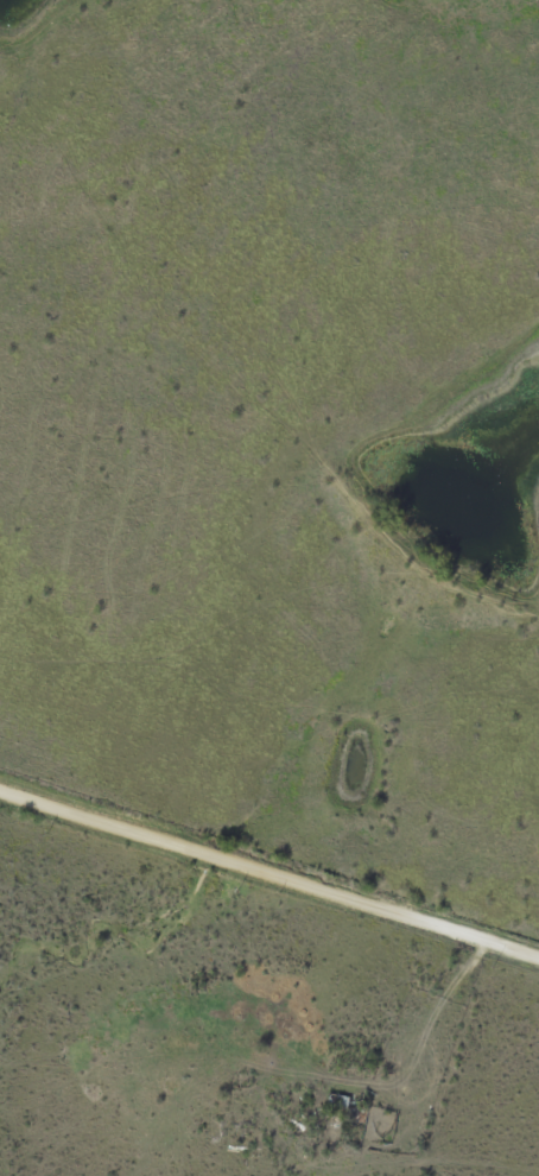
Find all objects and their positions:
road: (269, 874)

